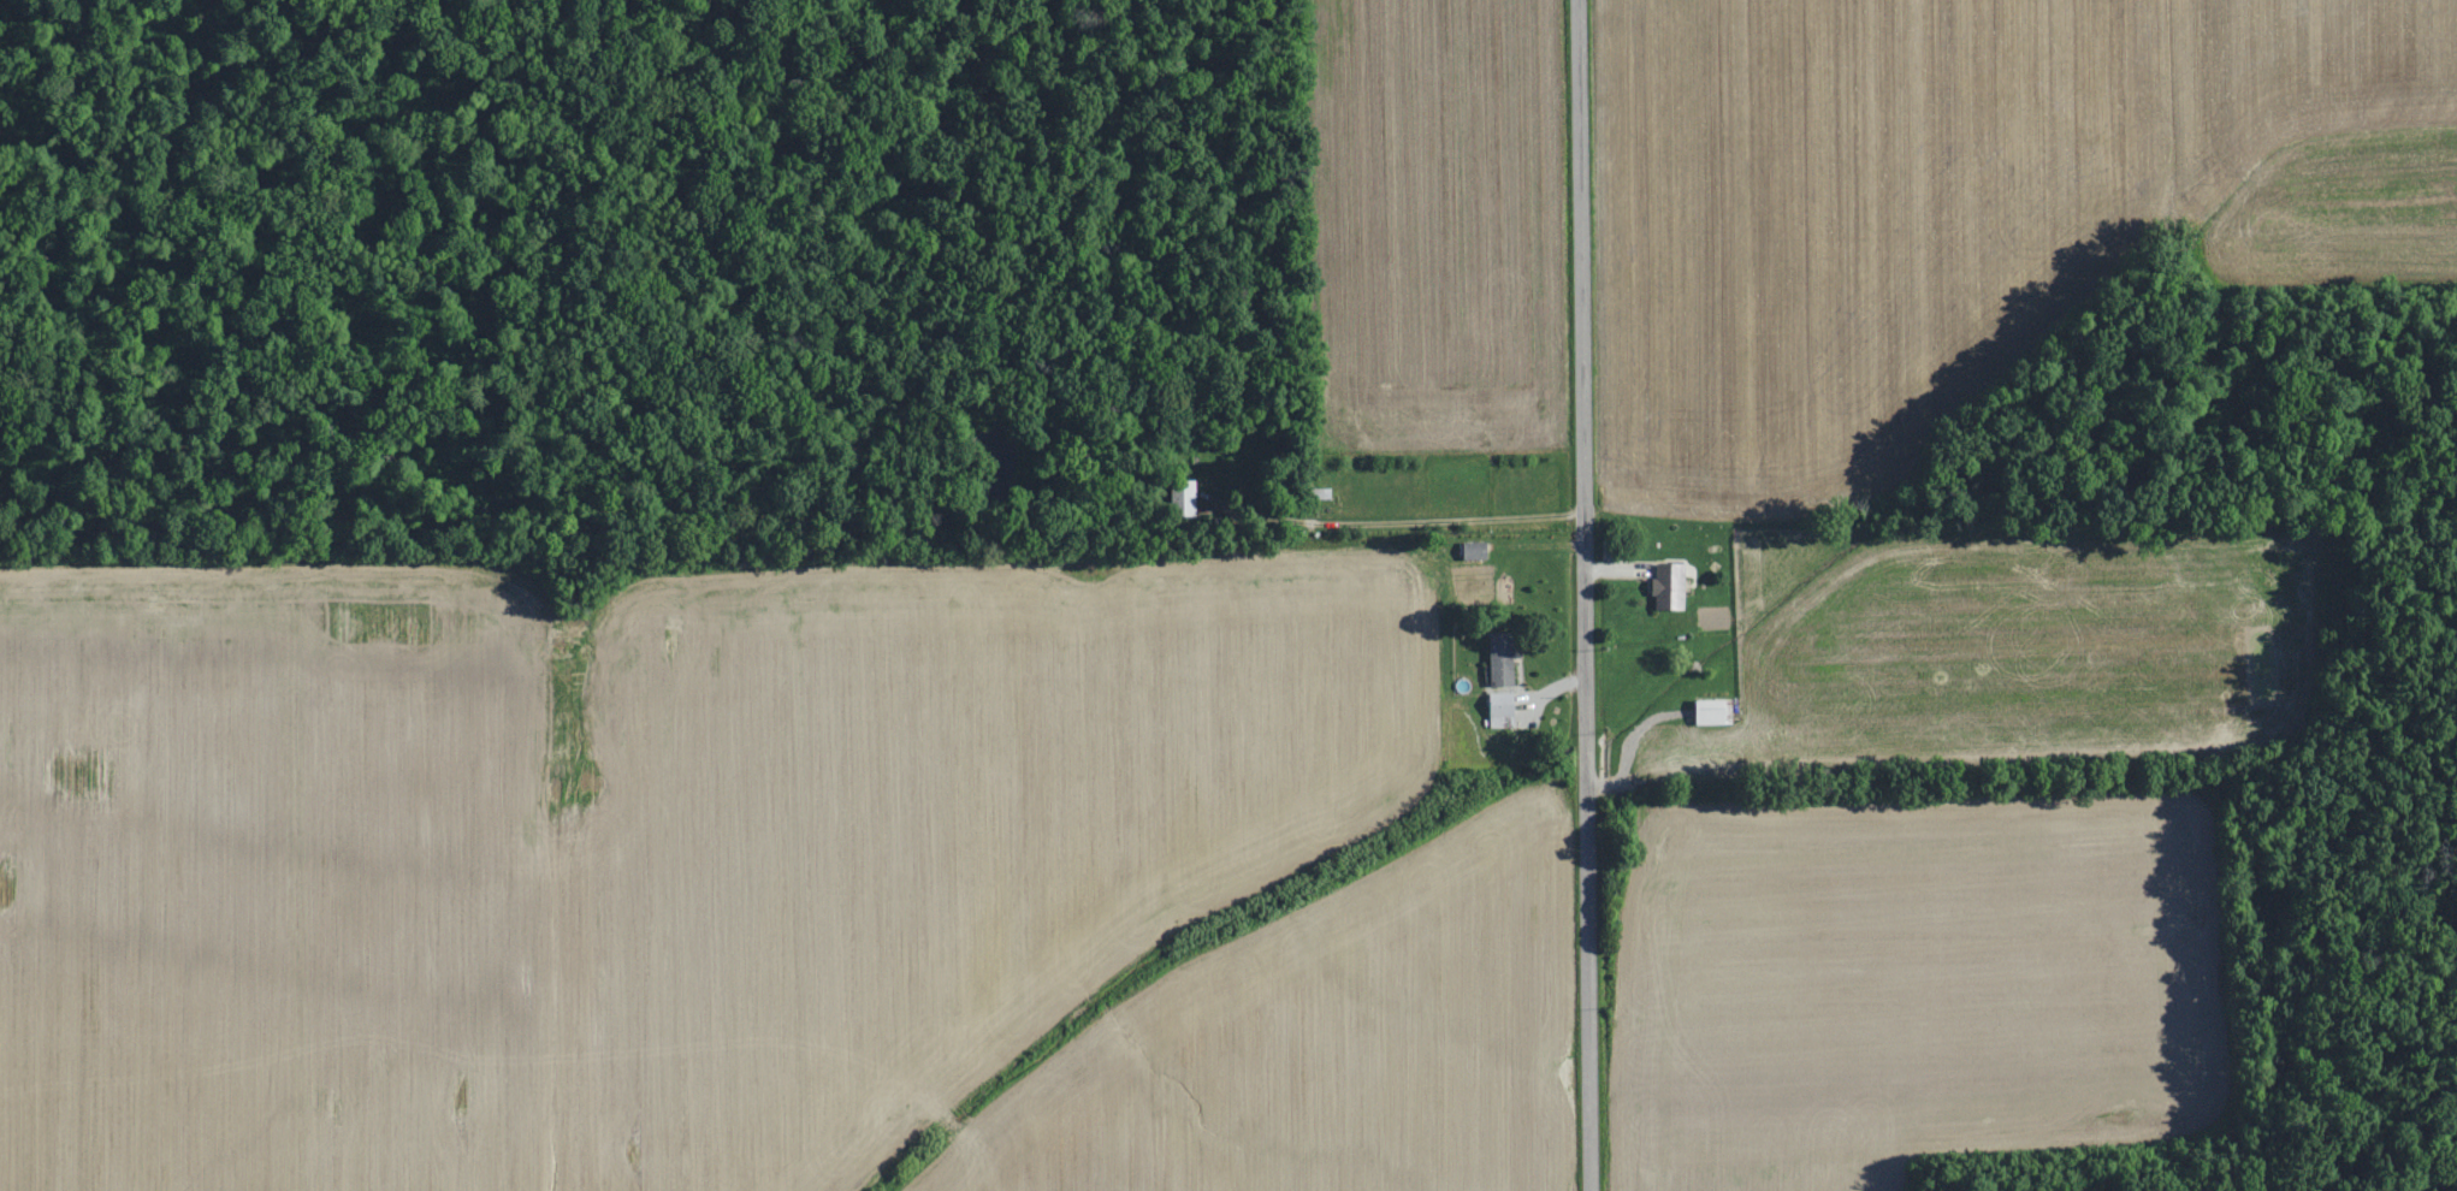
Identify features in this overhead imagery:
road: (1407, 519)
building: (1668, 585)
road: (1586, 594)

